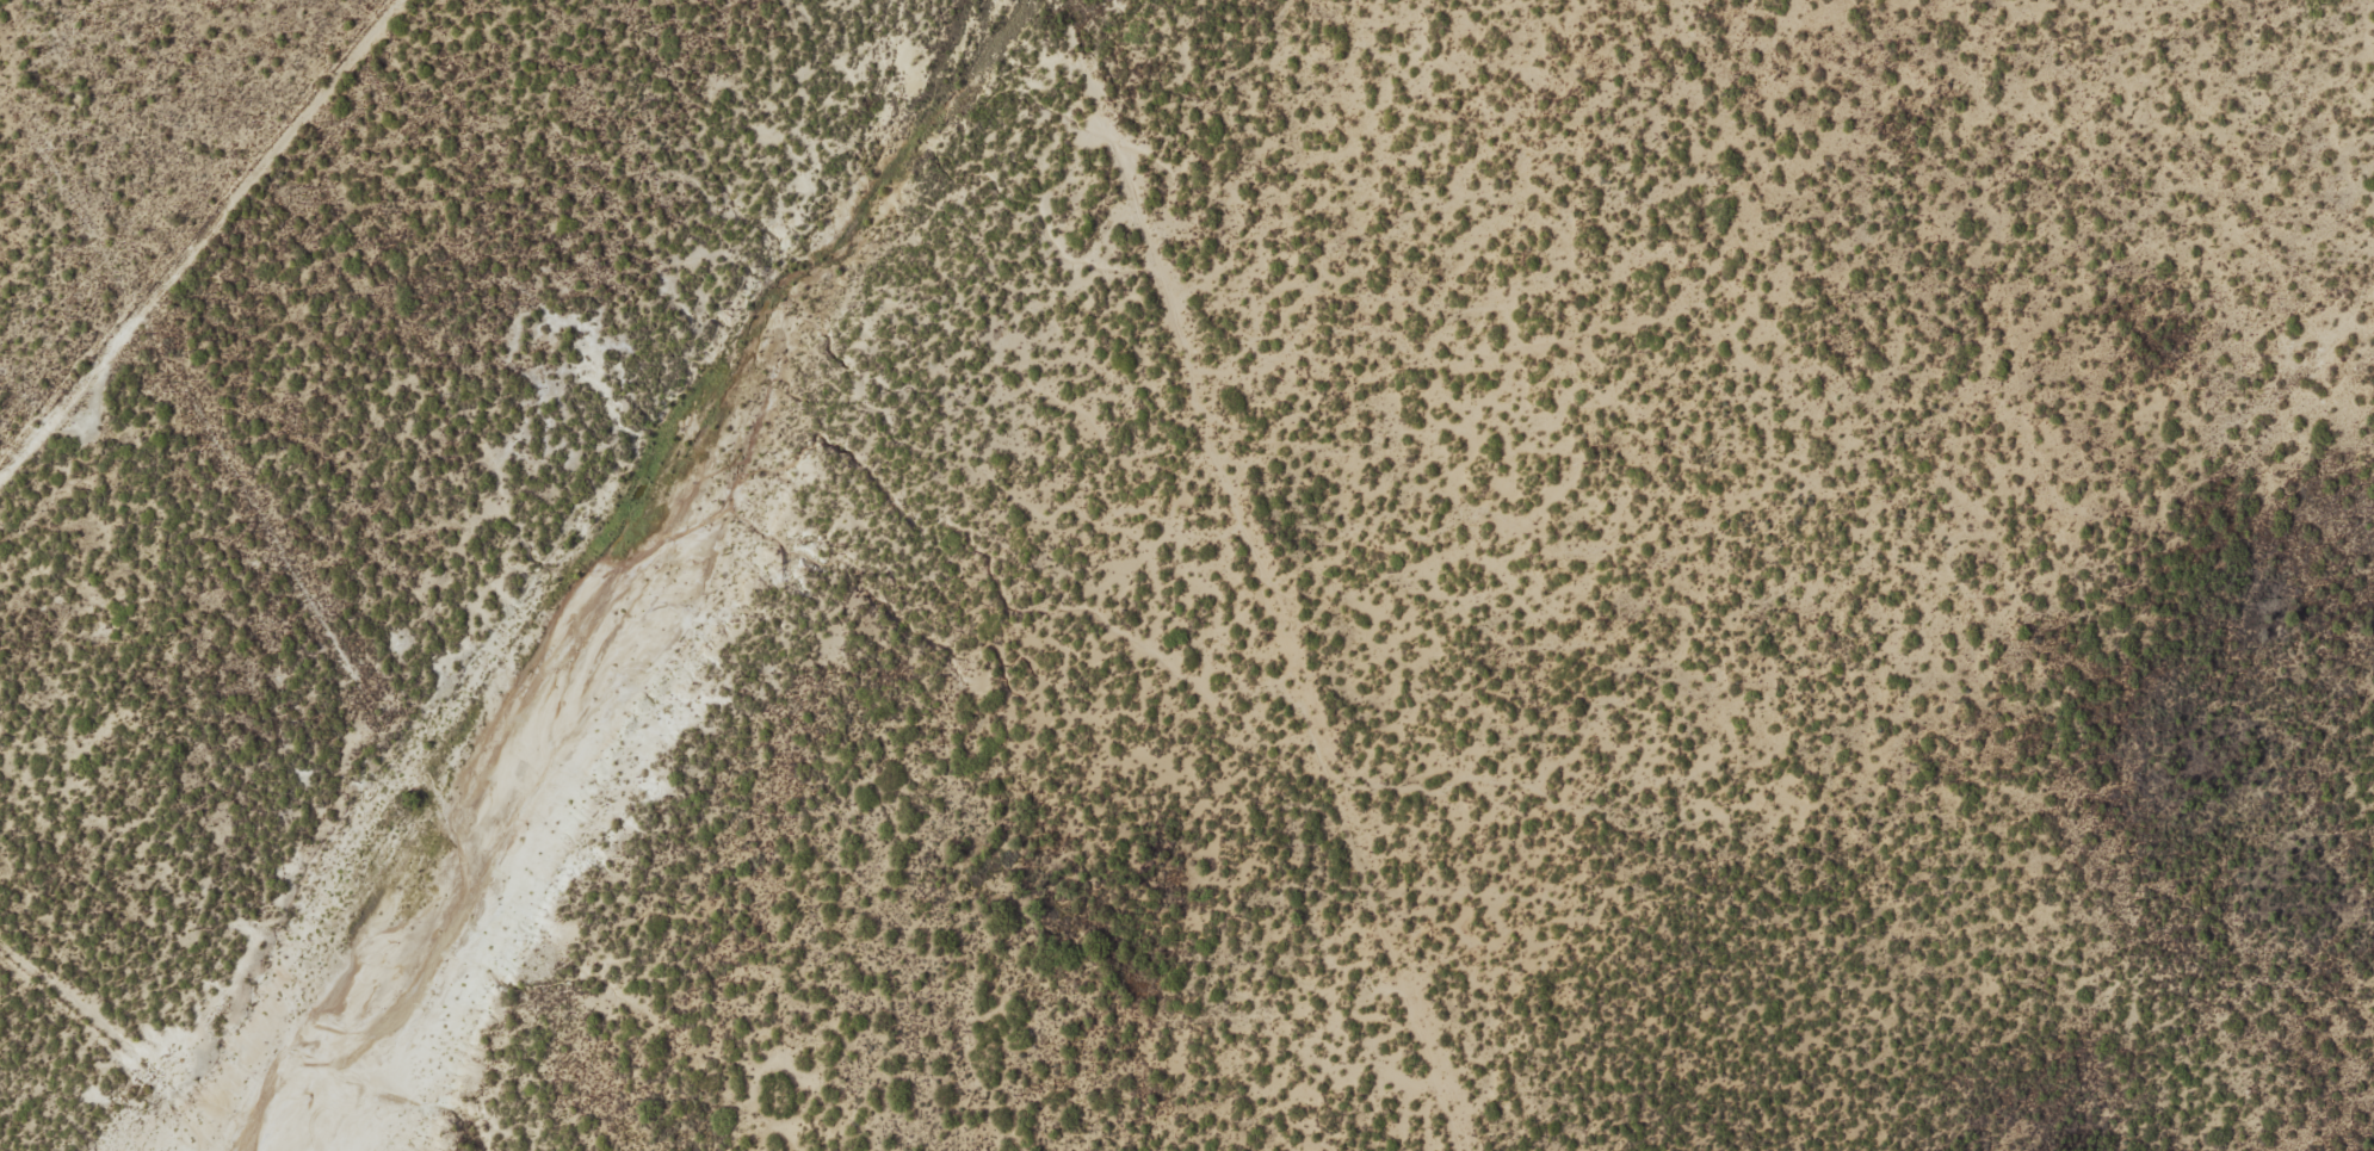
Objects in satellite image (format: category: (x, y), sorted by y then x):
road: (221, 206)
road: (48, 414)

